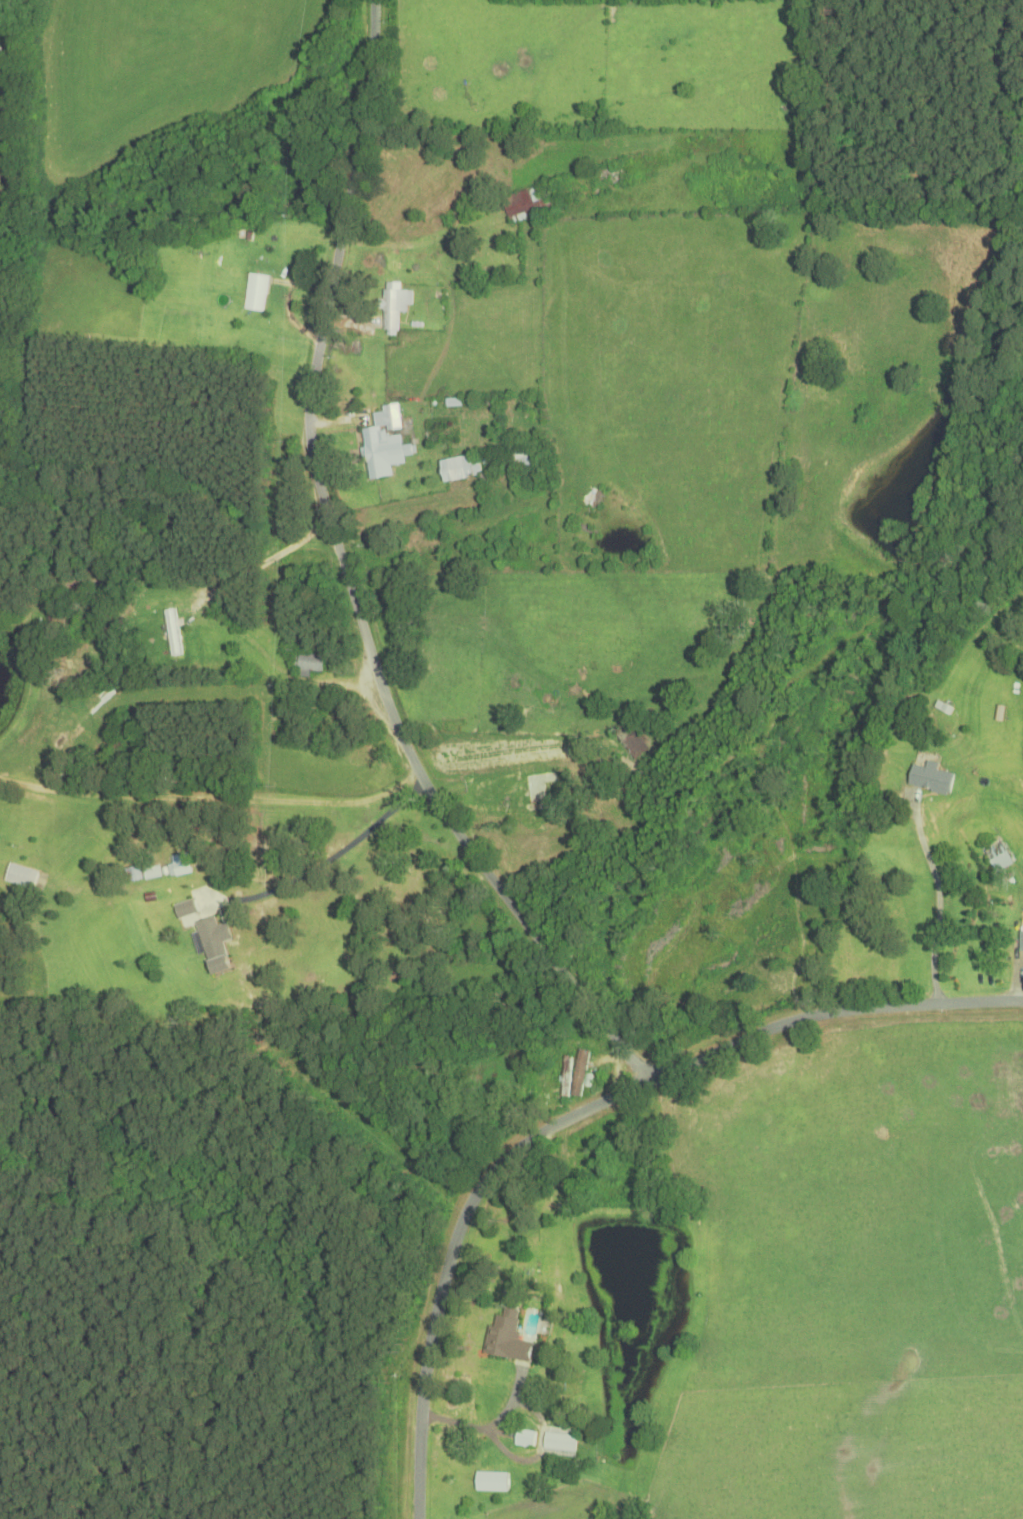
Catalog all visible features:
building: (569, 193)
building: (256, 293)
building: (394, 307)
building: (383, 445)
building: (522, 457)
building: (463, 471)
road: (348, 581)
building: (307, 665)
building: (931, 778)
road: (211, 799)
road: (339, 851)
building: (998, 857)
building: (179, 864)
building: (133, 874)
building: (22, 877)
building: (185, 909)
road: (943, 928)
building: (1020, 941)
building: (213, 944)
road: (831, 1013)
building: (566, 1077)
road: (453, 1249)
building: (506, 1338)
building: (524, 1438)

